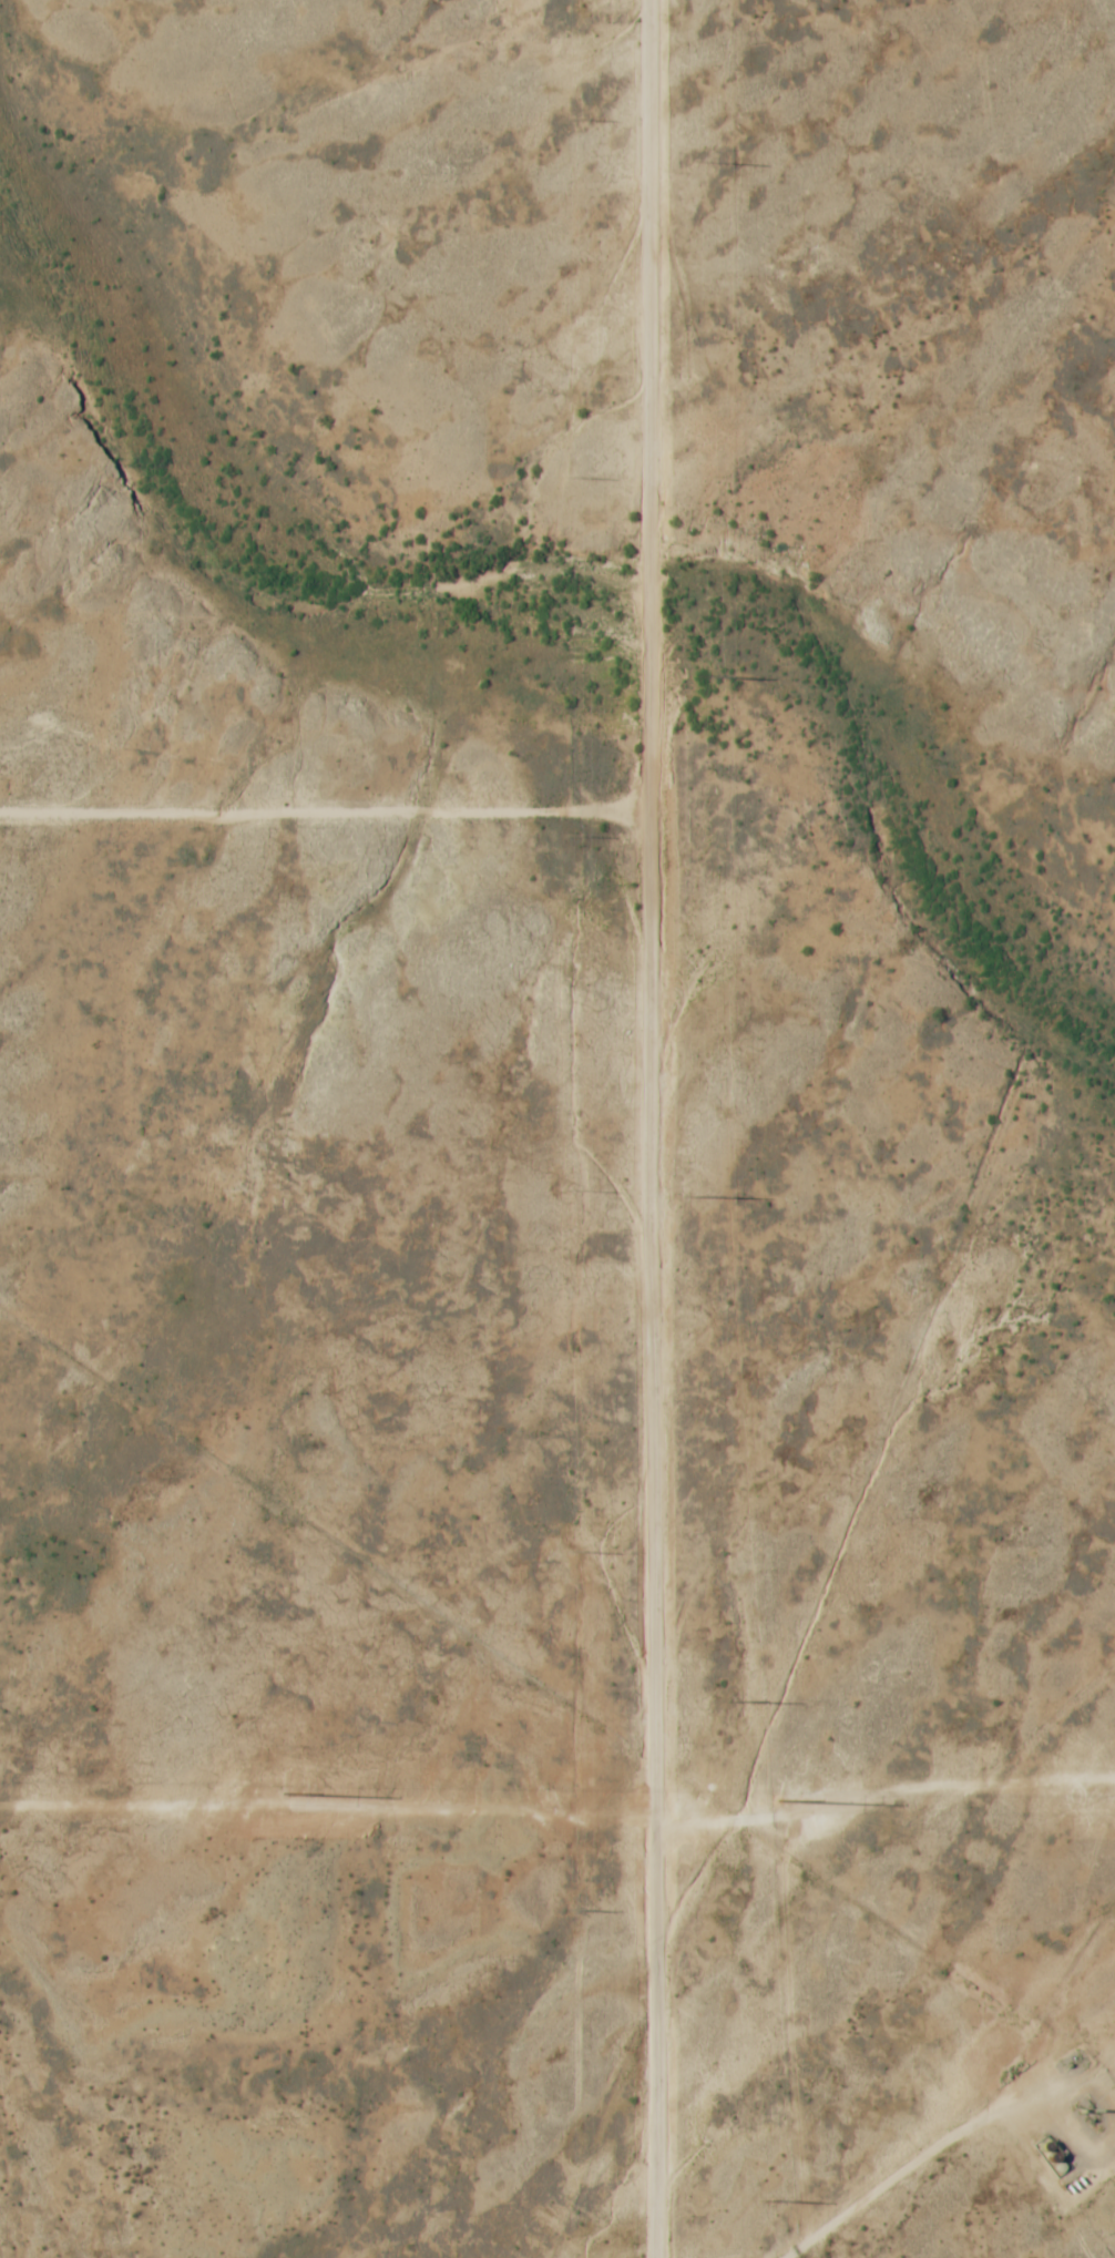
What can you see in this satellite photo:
power tower: (569, 119)
power tower: (702, 162)
power tower: (571, 477)
power tower: (705, 675)
road: (324, 806)
power tower: (572, 836)
road: (647, 1128)
power tower: (571, 1189)
power tower: (699, 1198)
power tower: (574, 1550)
power tower: (735, 1703)
power tower: (575, 1907)
road: (908, 2178)
power tower: (764, 2200)

